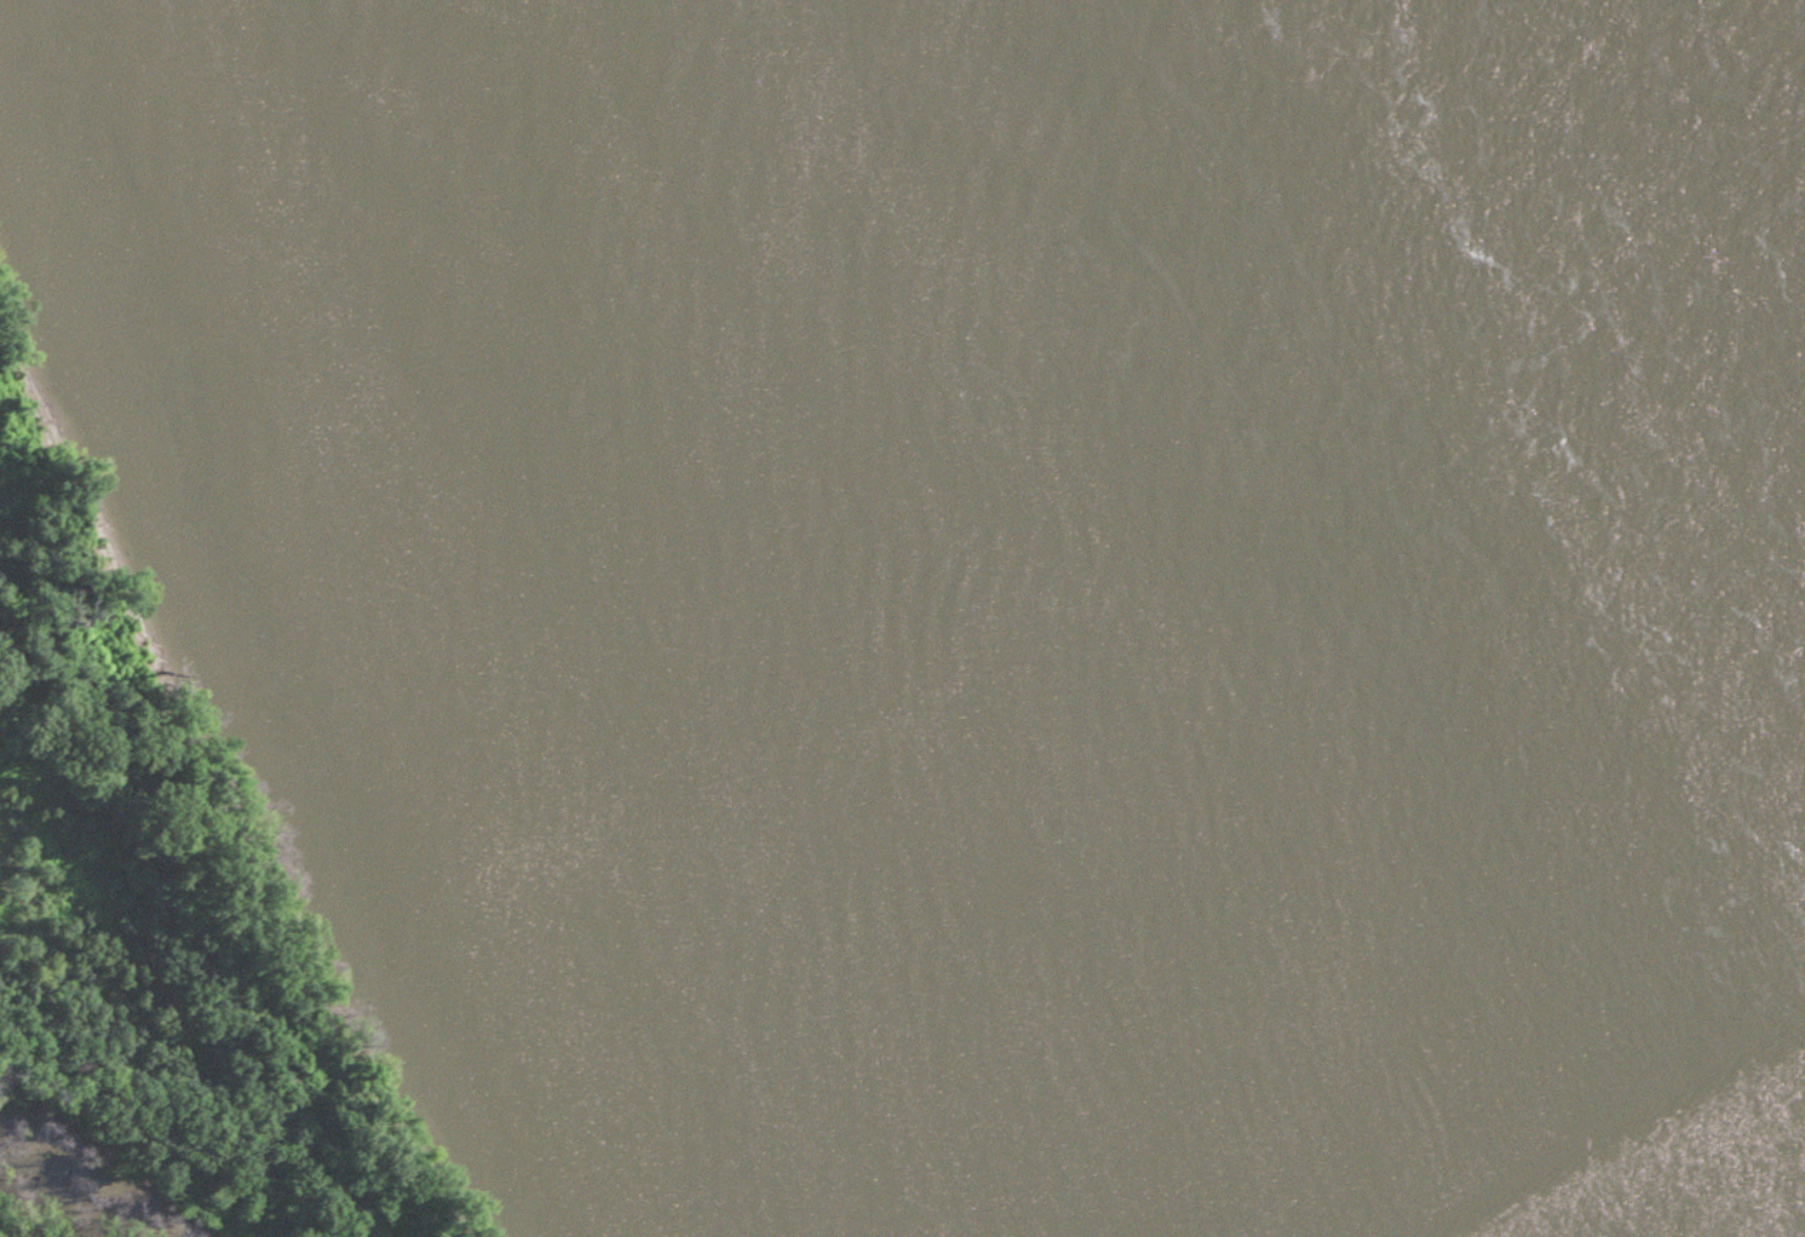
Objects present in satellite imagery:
river: (1495, 426)

